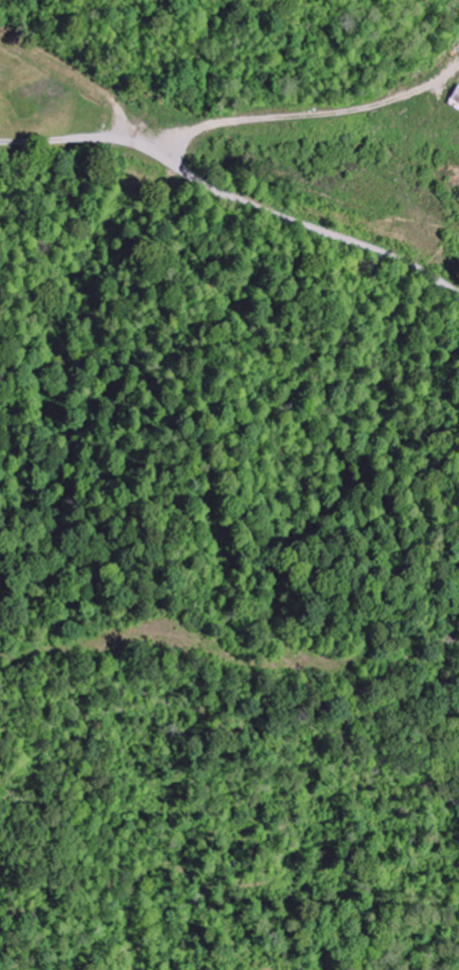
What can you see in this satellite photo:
building: (456, 98)
road: (301, 223)

